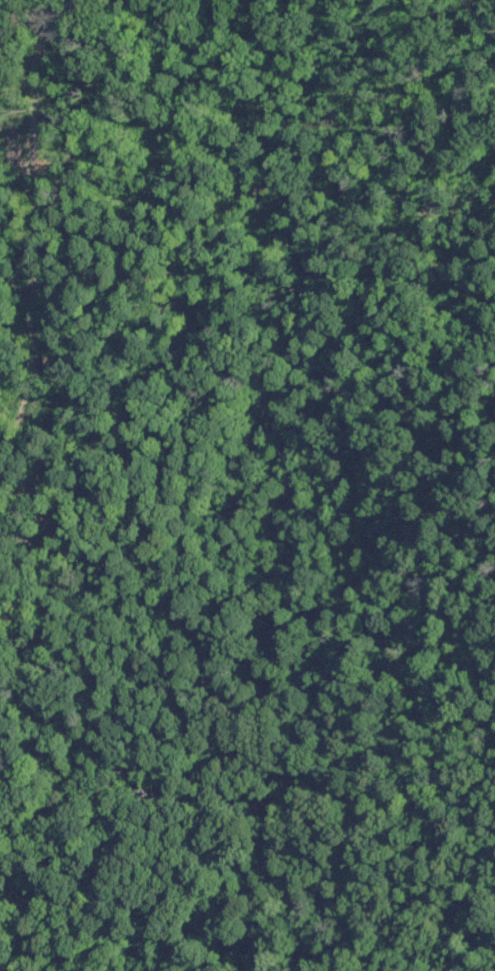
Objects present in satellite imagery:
road: (37, 9)

